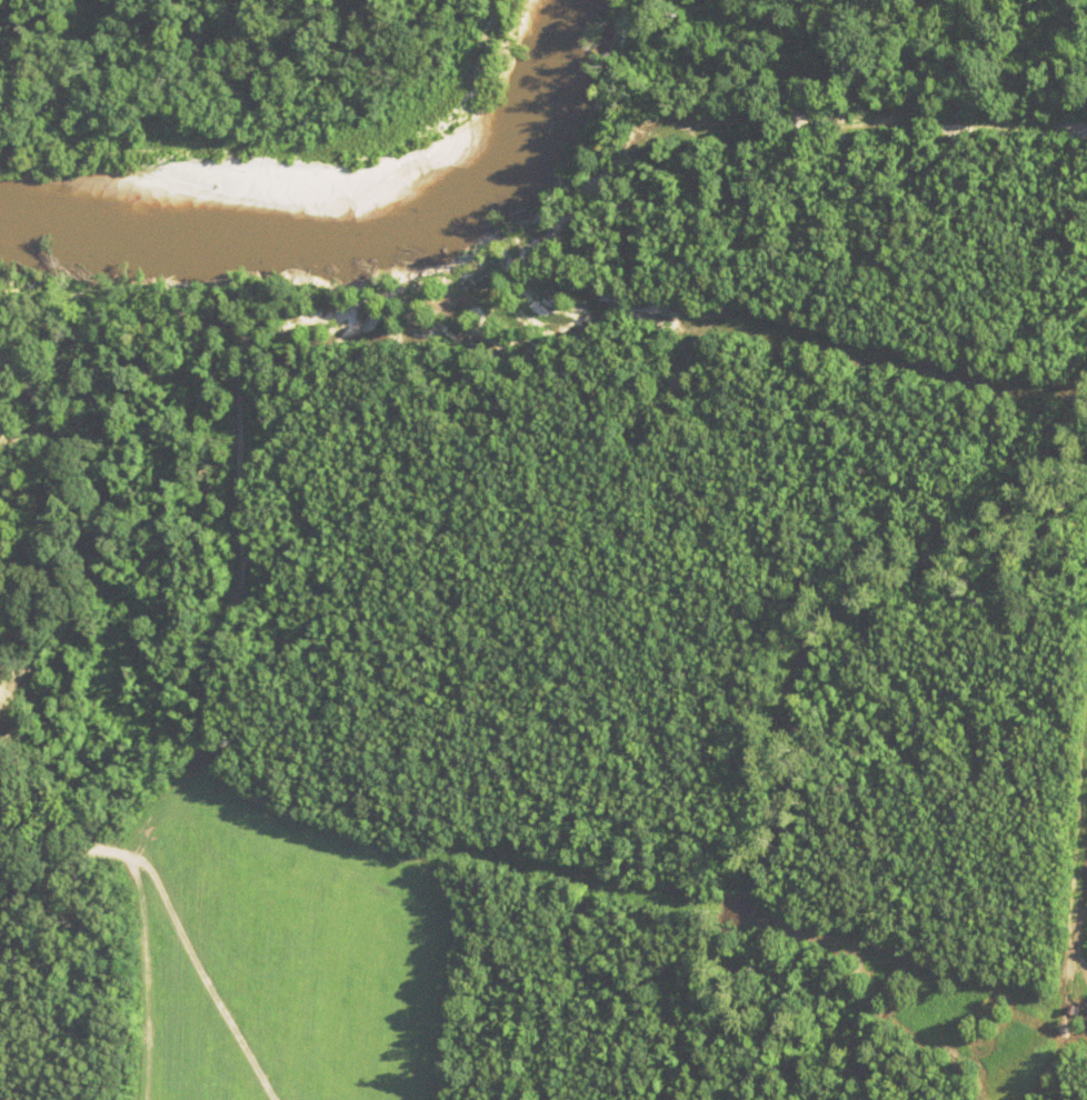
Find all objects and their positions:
river: (333, 188)

